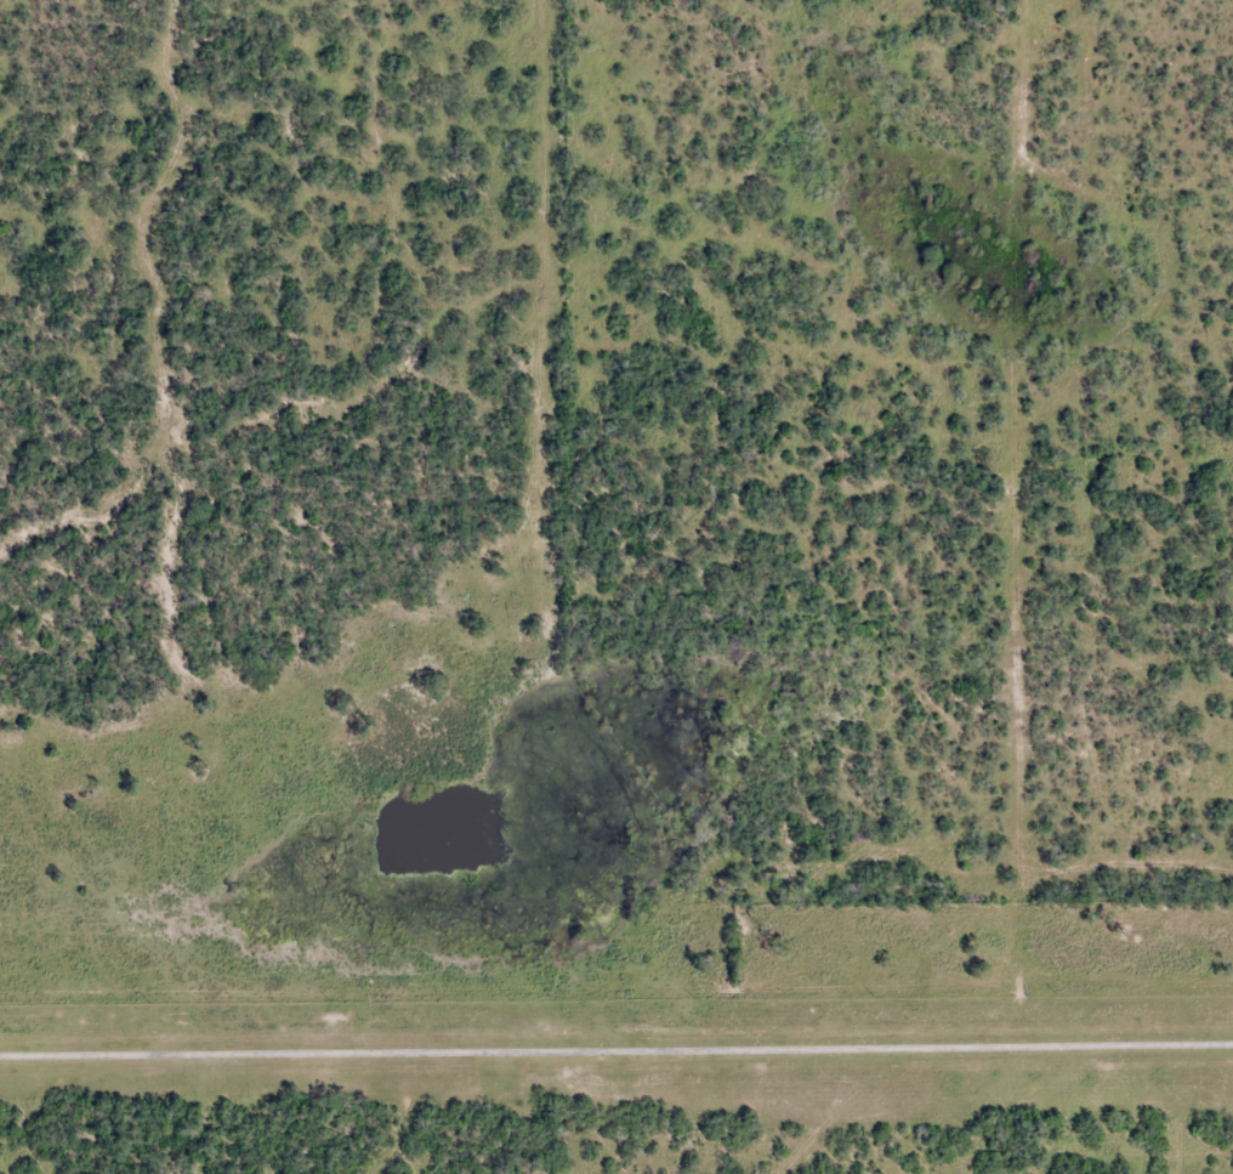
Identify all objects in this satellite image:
road: (616, 1045)

